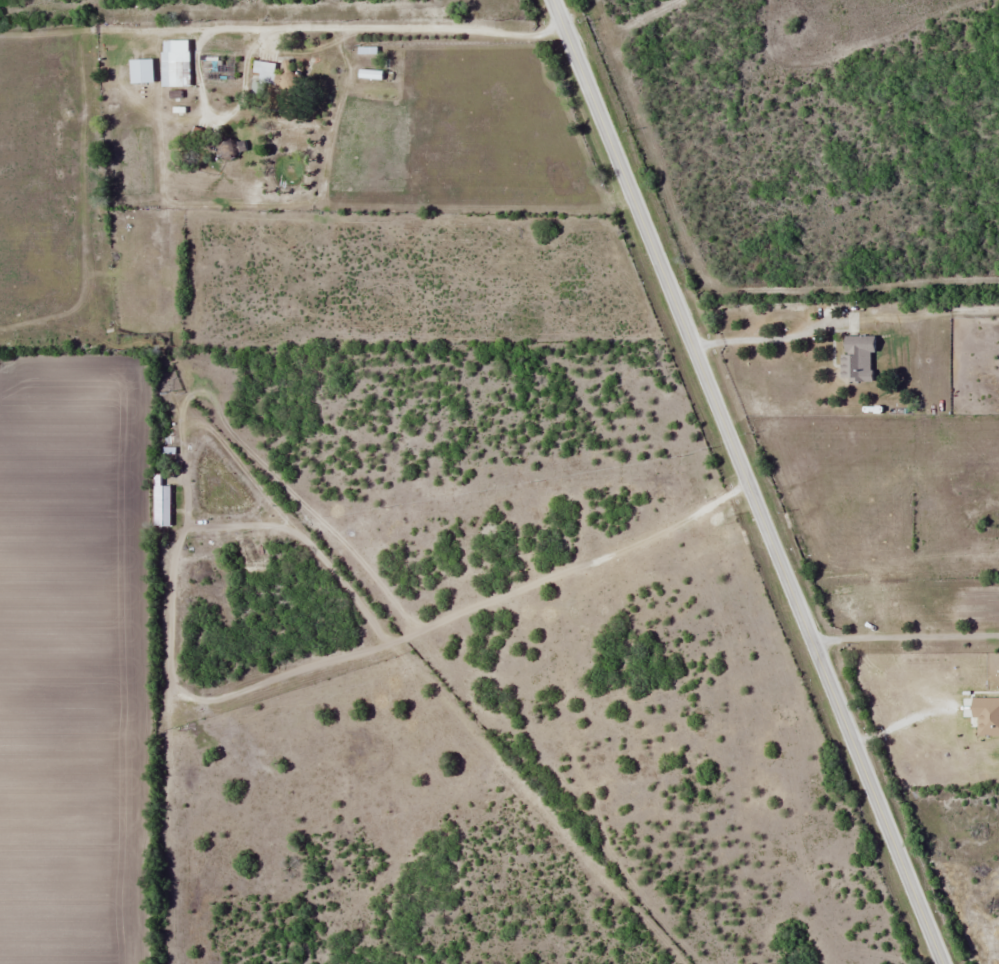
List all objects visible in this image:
road: (286, 23)
building: (227, 44)
building: (370, 49)
building: (179, 65)
building: (145, 70)
building: (279, 74)
road: (767, 335)
building: (861, 357)
road: (751, 481)
road: (905, 632)
road: (918, 681)

